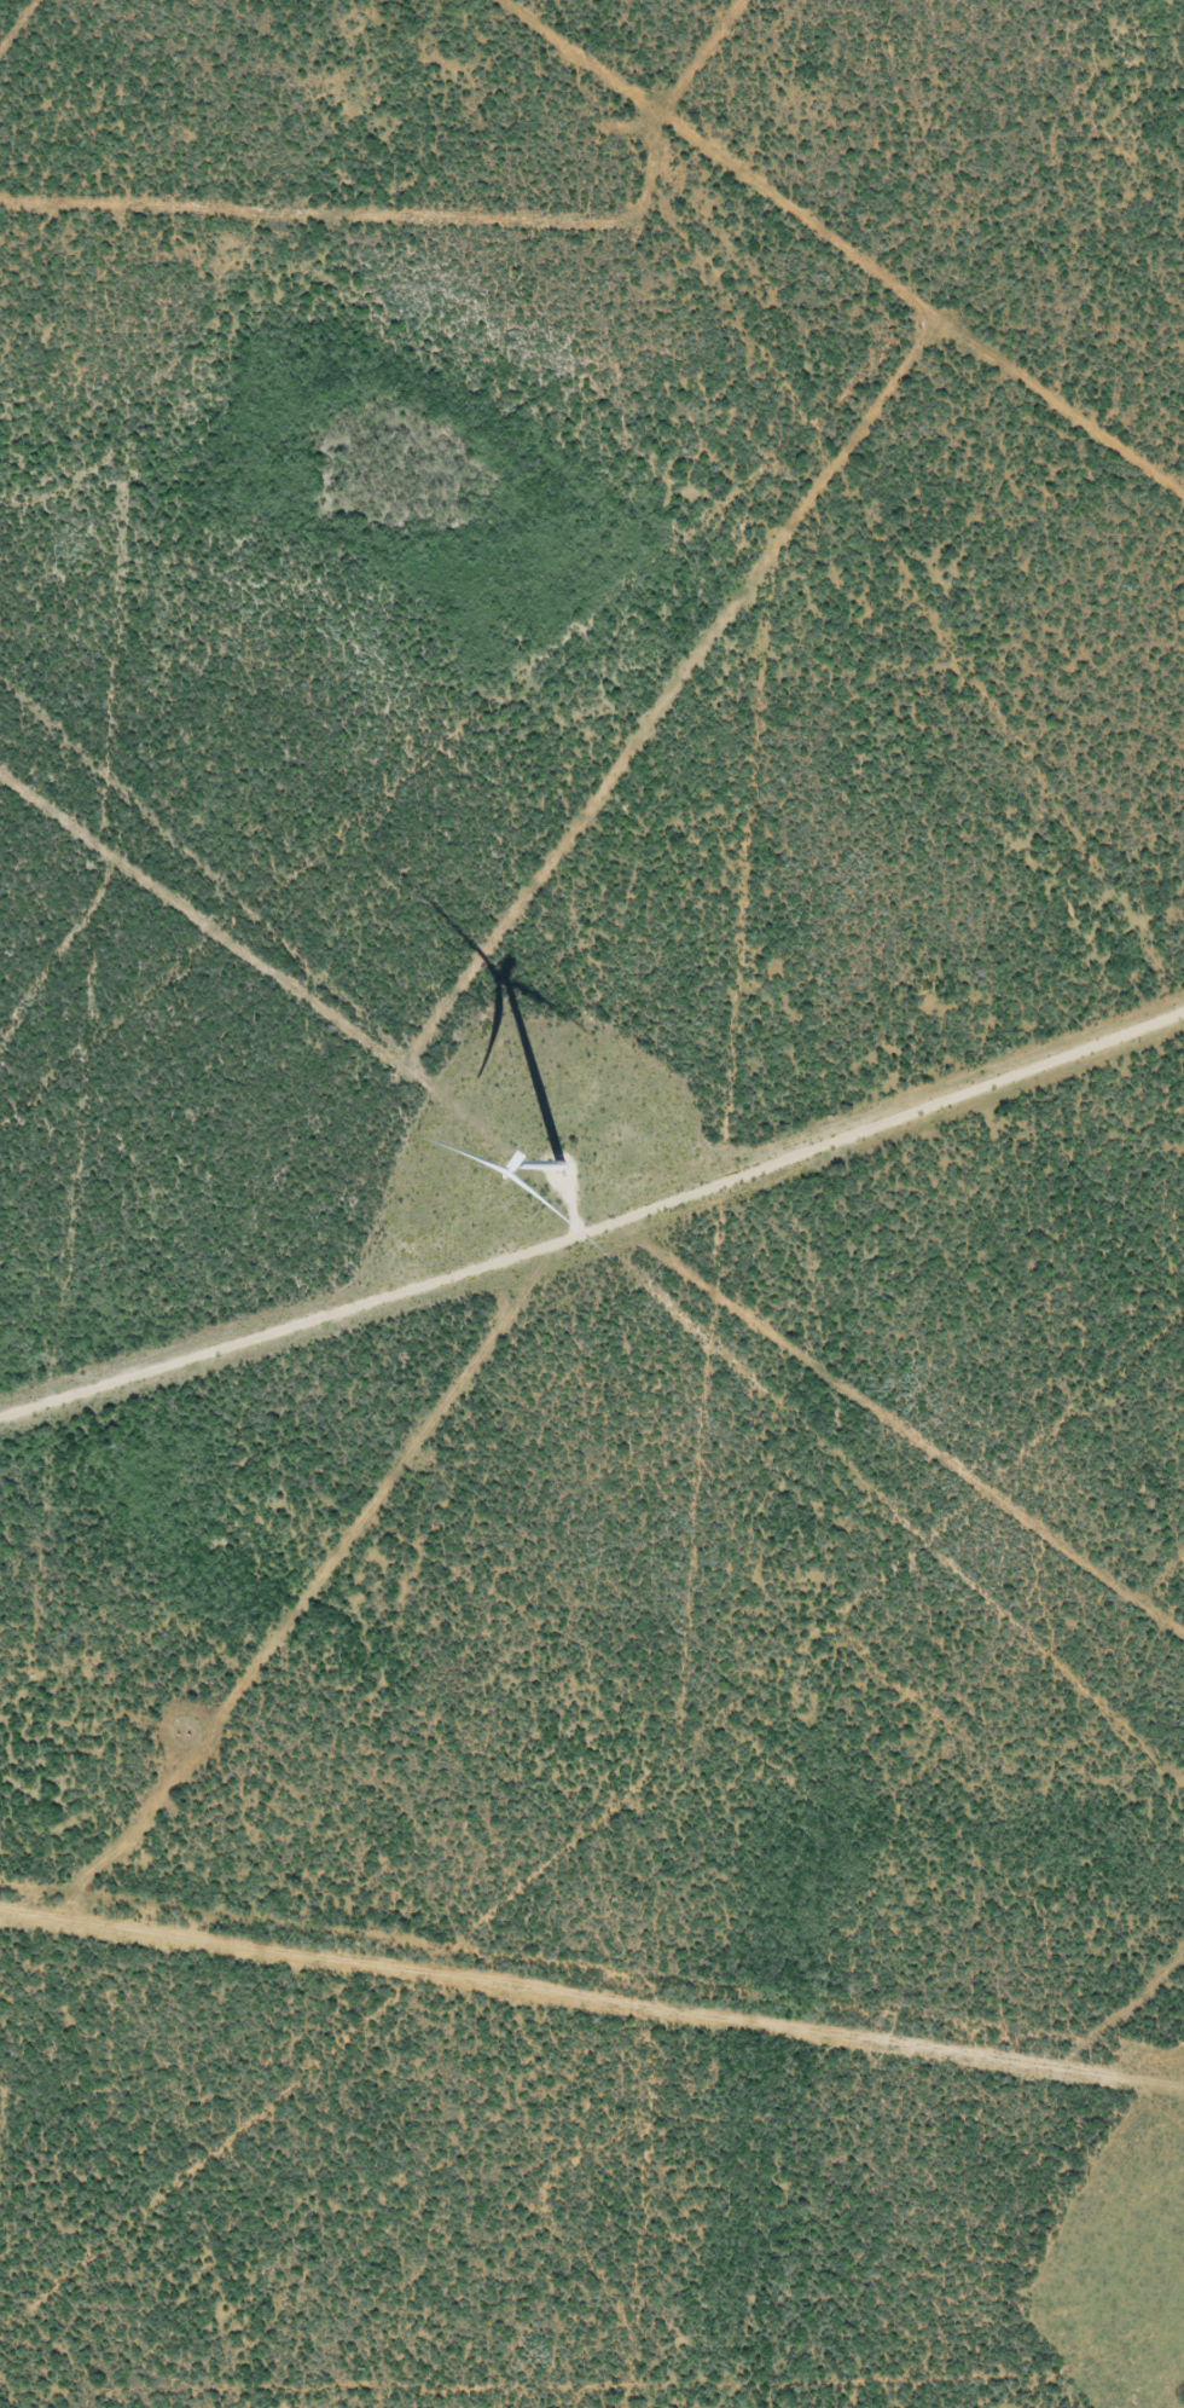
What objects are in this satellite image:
wind turbine: (557, 1174)

